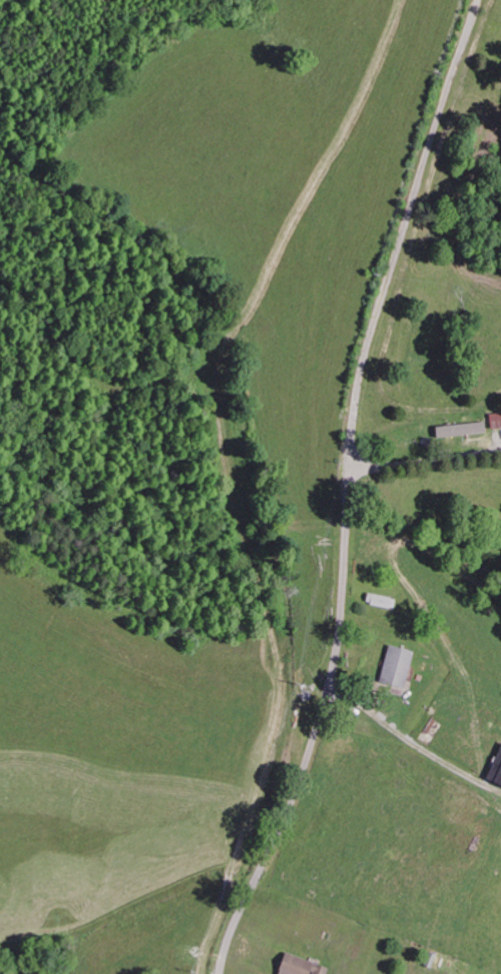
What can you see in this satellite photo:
road: (410, 222)
building: (495, 422)
building: (459, 431)
building: (395, 669)
road: (320, 718)
building: (494, 771)
building: (299, 966)

